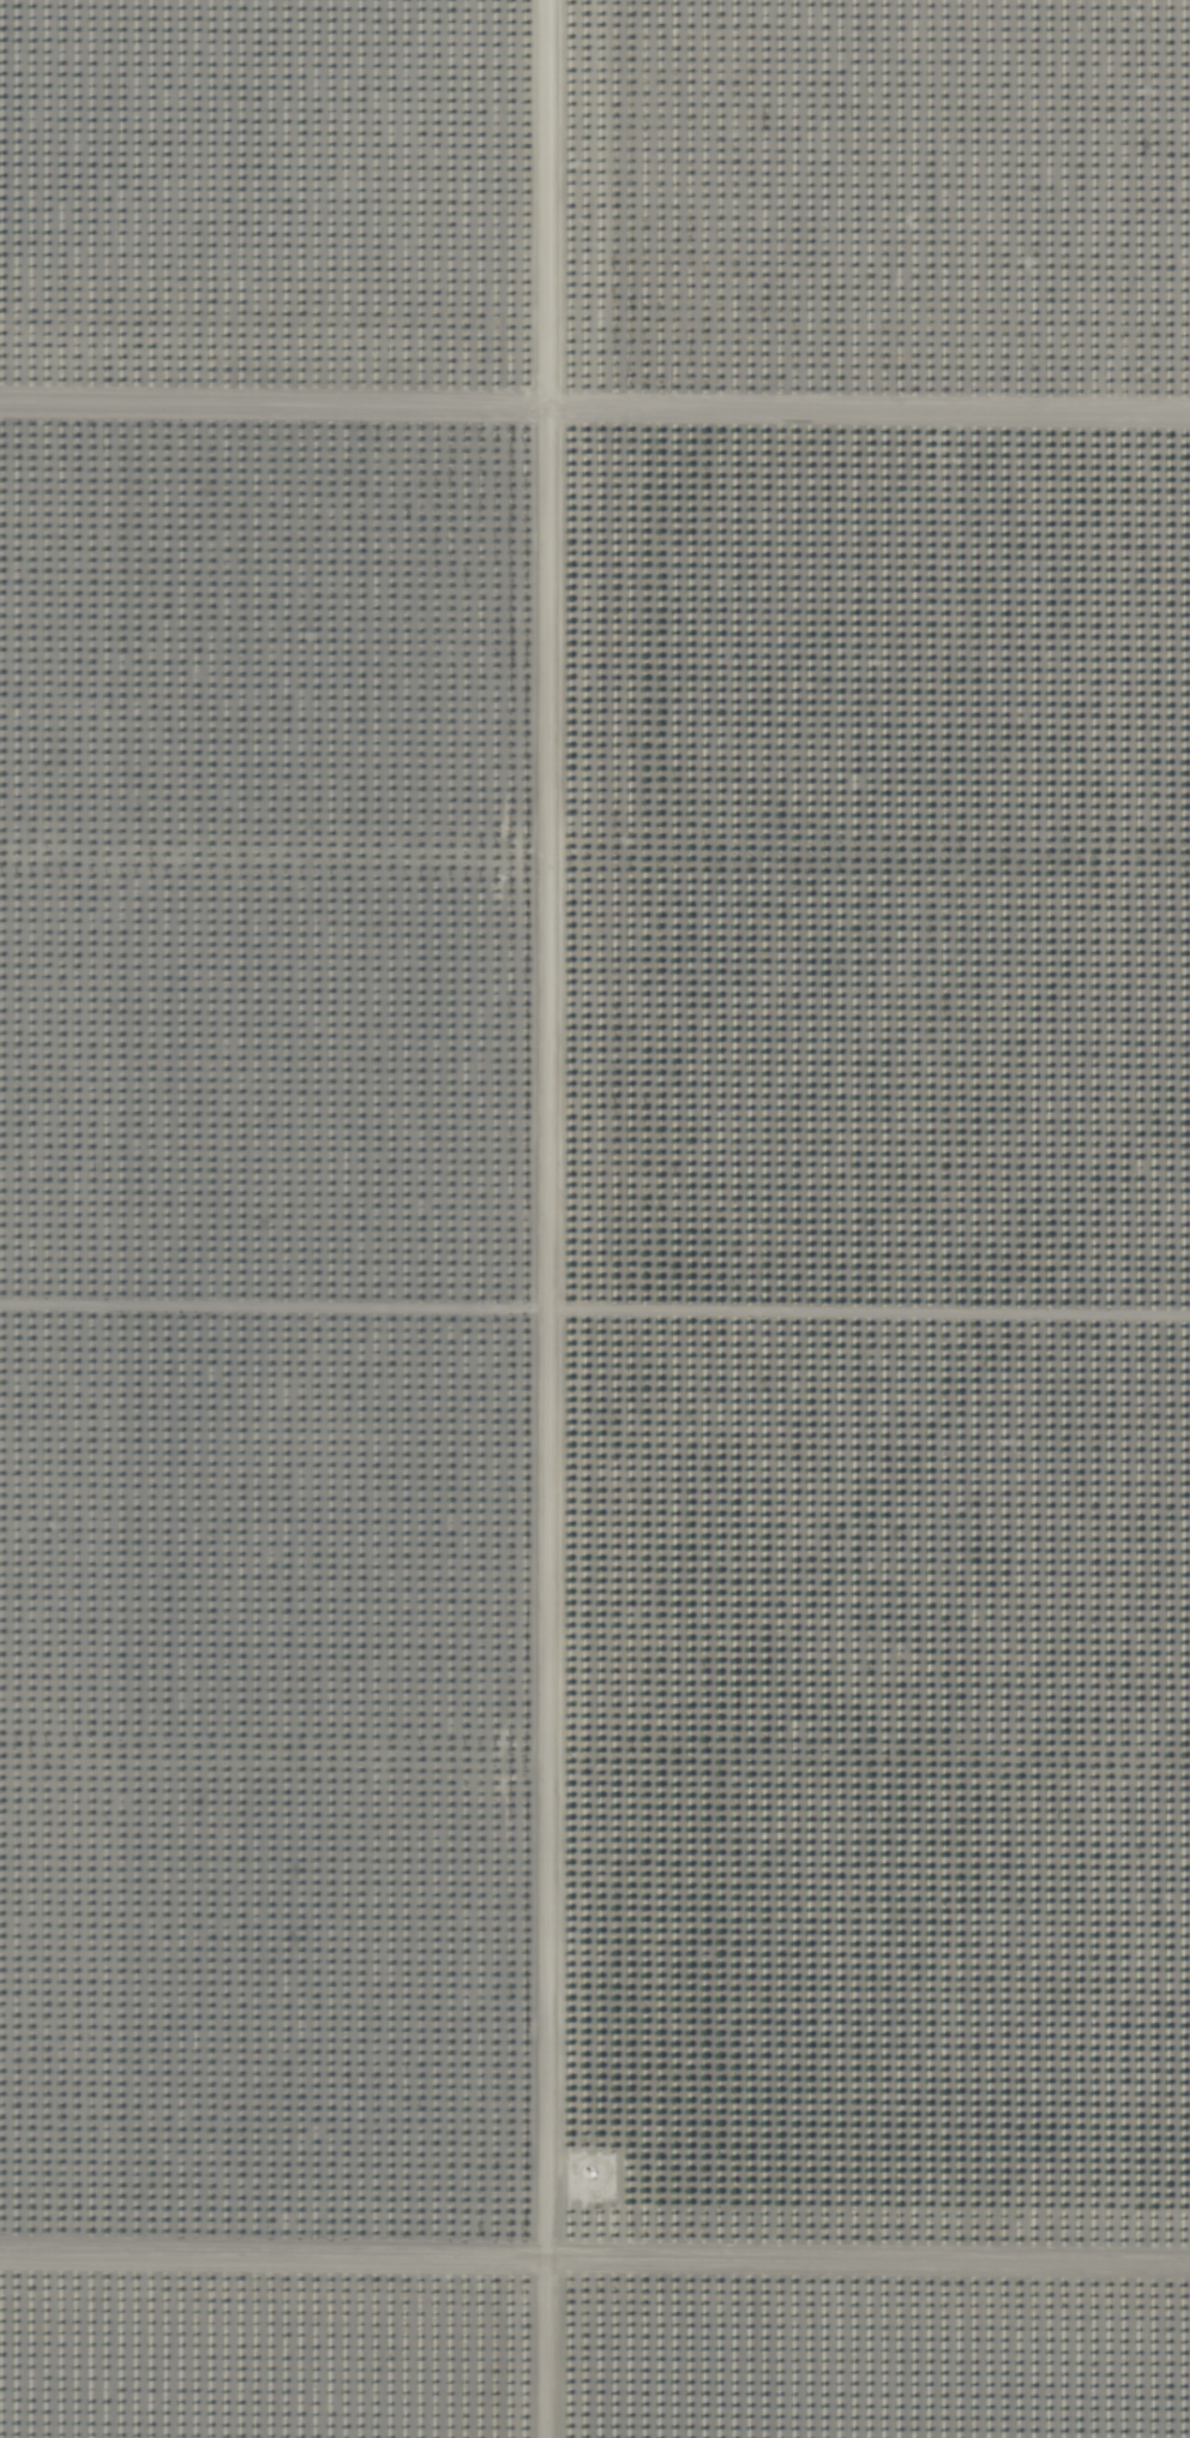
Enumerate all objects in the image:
road: (545, 1218)
crop: (595, 1218)
road: (595, 2203)

